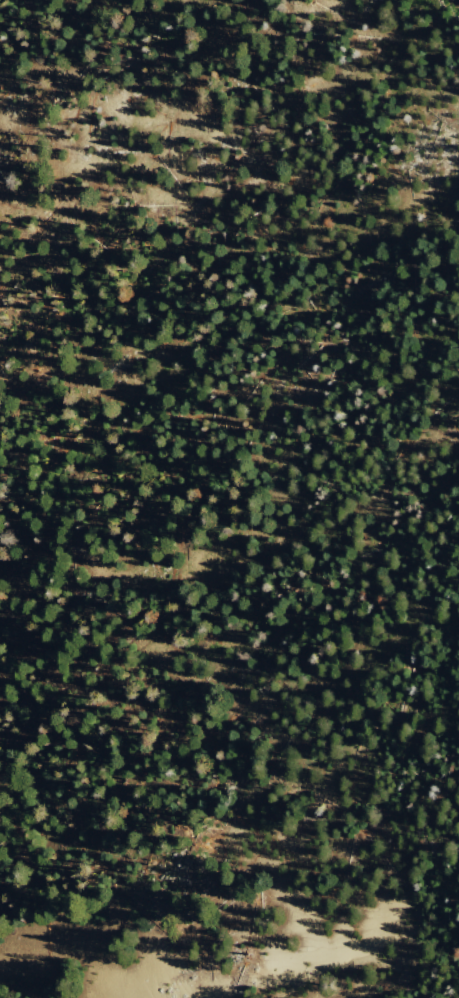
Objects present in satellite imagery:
road: (364, 955)
road: (22, 988)

